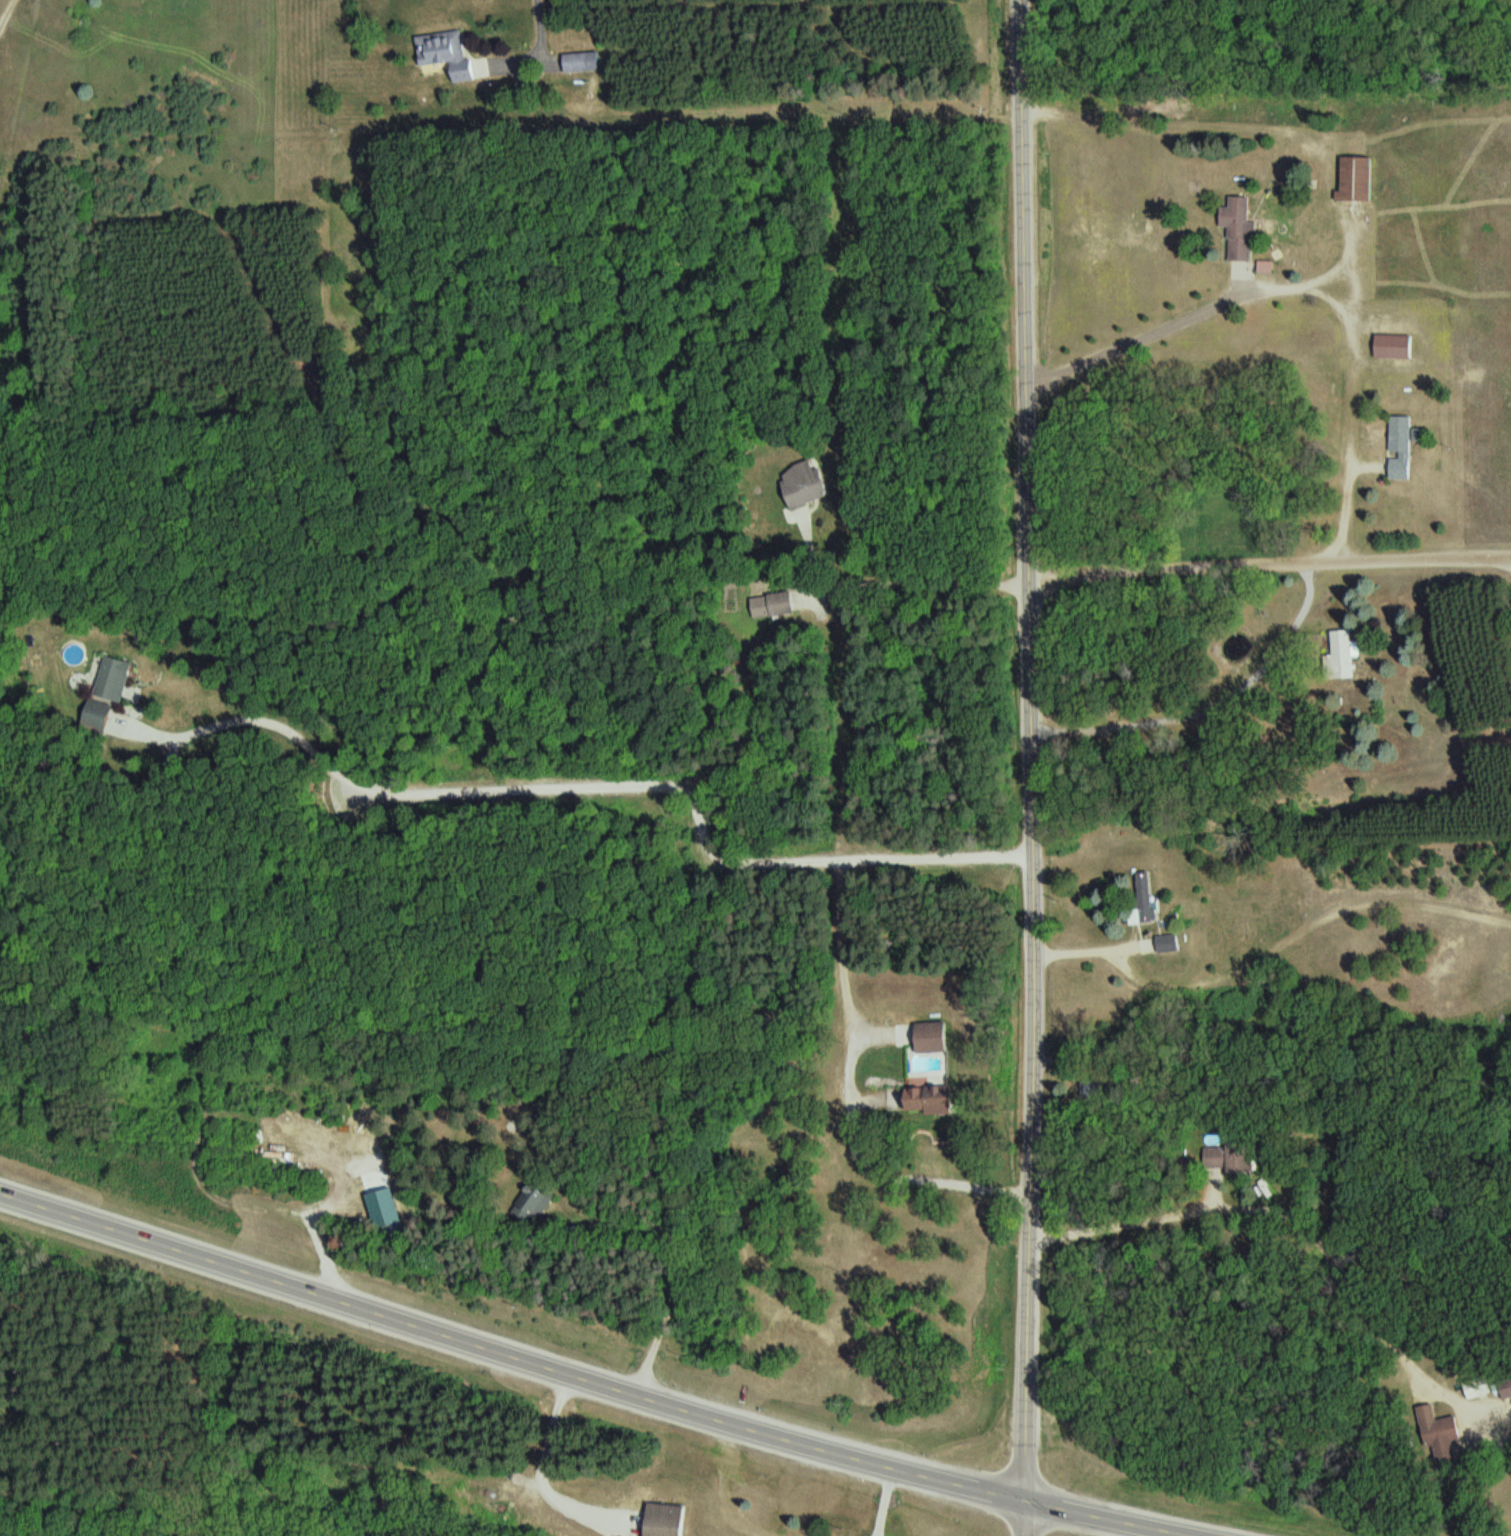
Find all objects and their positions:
road: (8, 21)
building: (449, 52)
building: (583, 62)
building: (1359, 179)
building: (1241, 228)
road: (1186, 341)
building: (1395, 346)
road: (1340, 442)
building: (1402, 447)
building: (805, 484)
road: (1269, 565)
building: (774, 605)
building: (1344, 655)
building: (120, 681)
building: (95, 714)
road: (1027, 767)
building: (1148, 897)
building: (1170, 944)
building: (933, 1034)
building: (537, 1200)
road: (594, 1377)
building: (1479, 1387)
building: (1507, 1388)
building: (1440, 1426)
building: (666, 1519)

